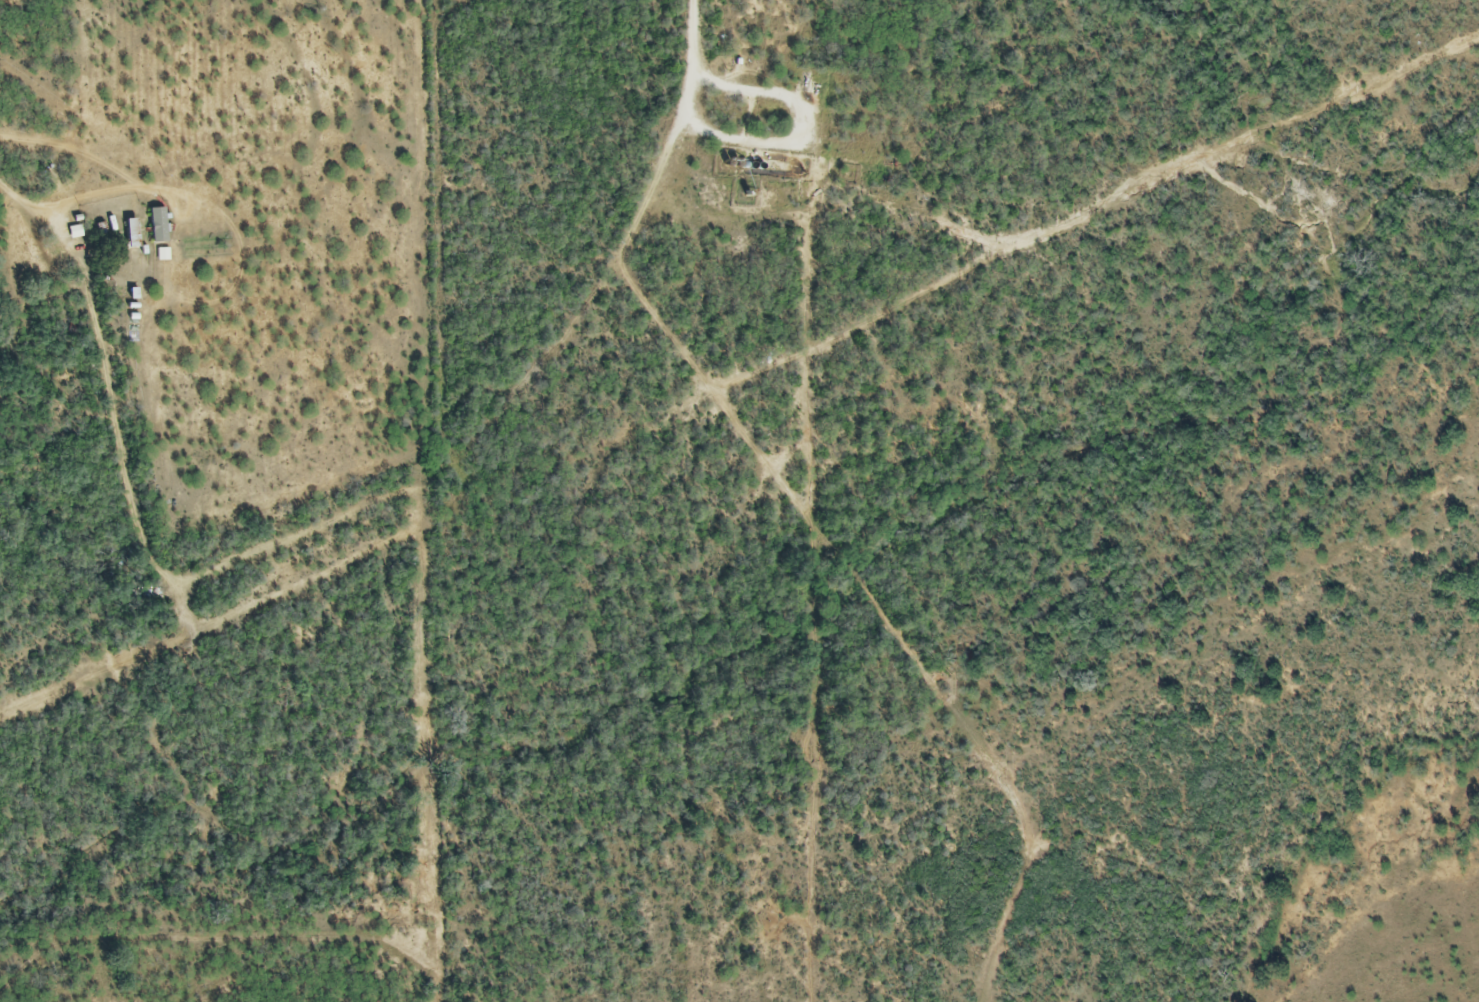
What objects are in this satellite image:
road: (695, 34)
road: (795, 136)
road: (62, 205)
building: (130, 235)

